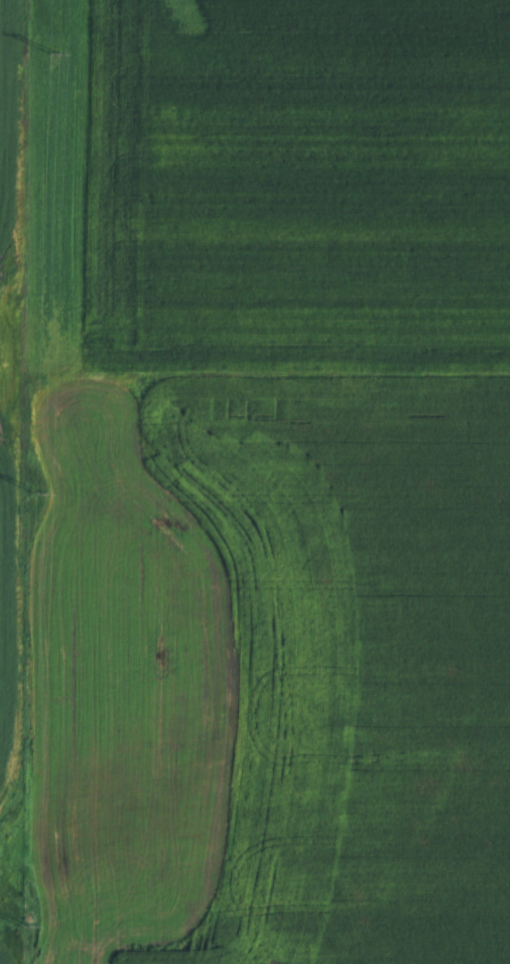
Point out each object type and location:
power tower: (52, 54)
power tower: (37, 495)
power tower: (23, 927)

